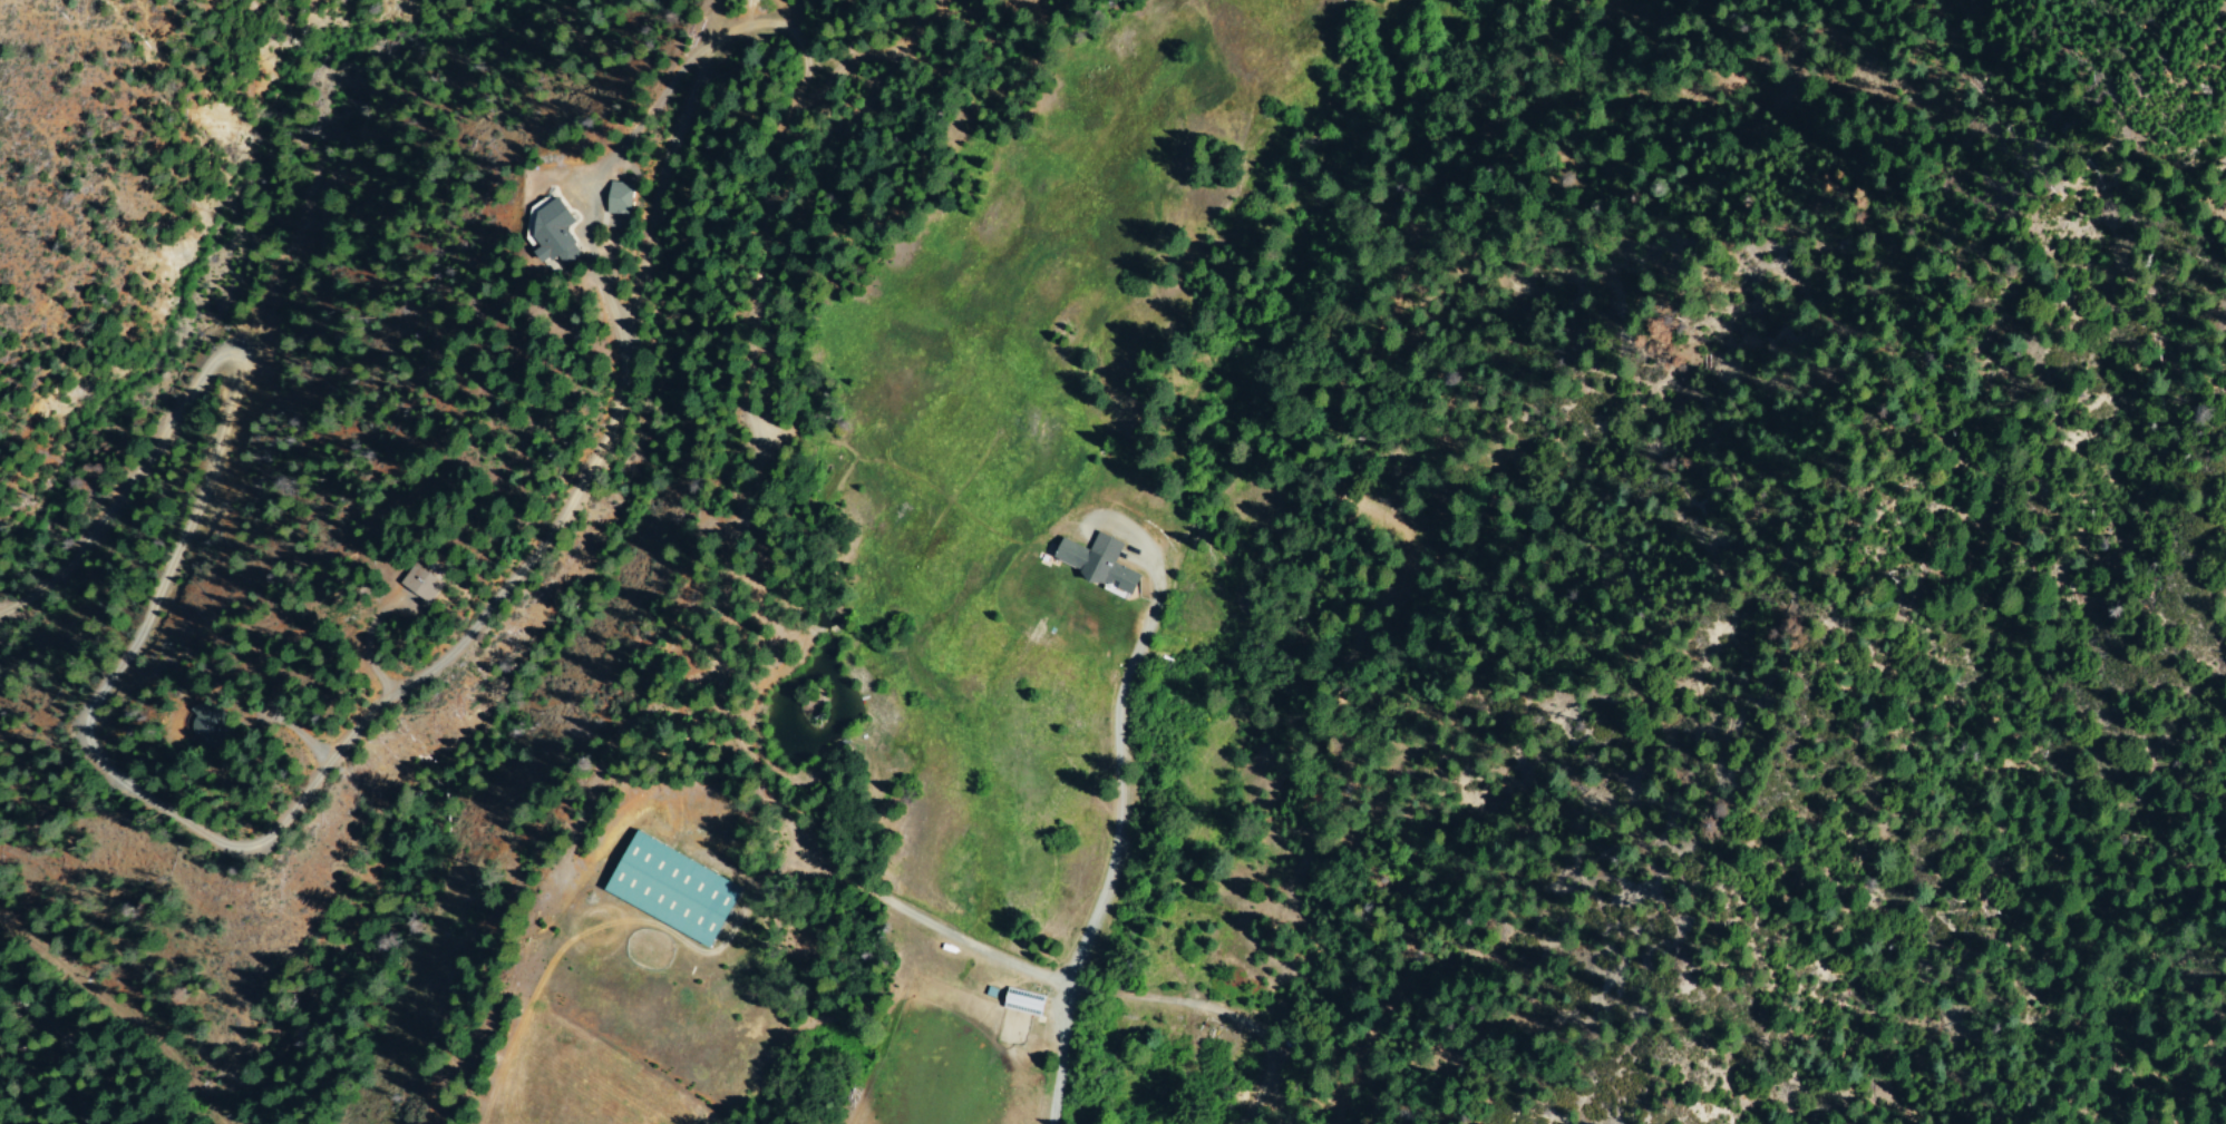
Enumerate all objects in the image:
building: (623, 198)
building: (560, 233)
building: (1092, 561)
building: (421, 588)
road: (723, 688)
road: (1120, 827)
road: (259, 838)
building: (680, 891)
road: (62, 1050)

